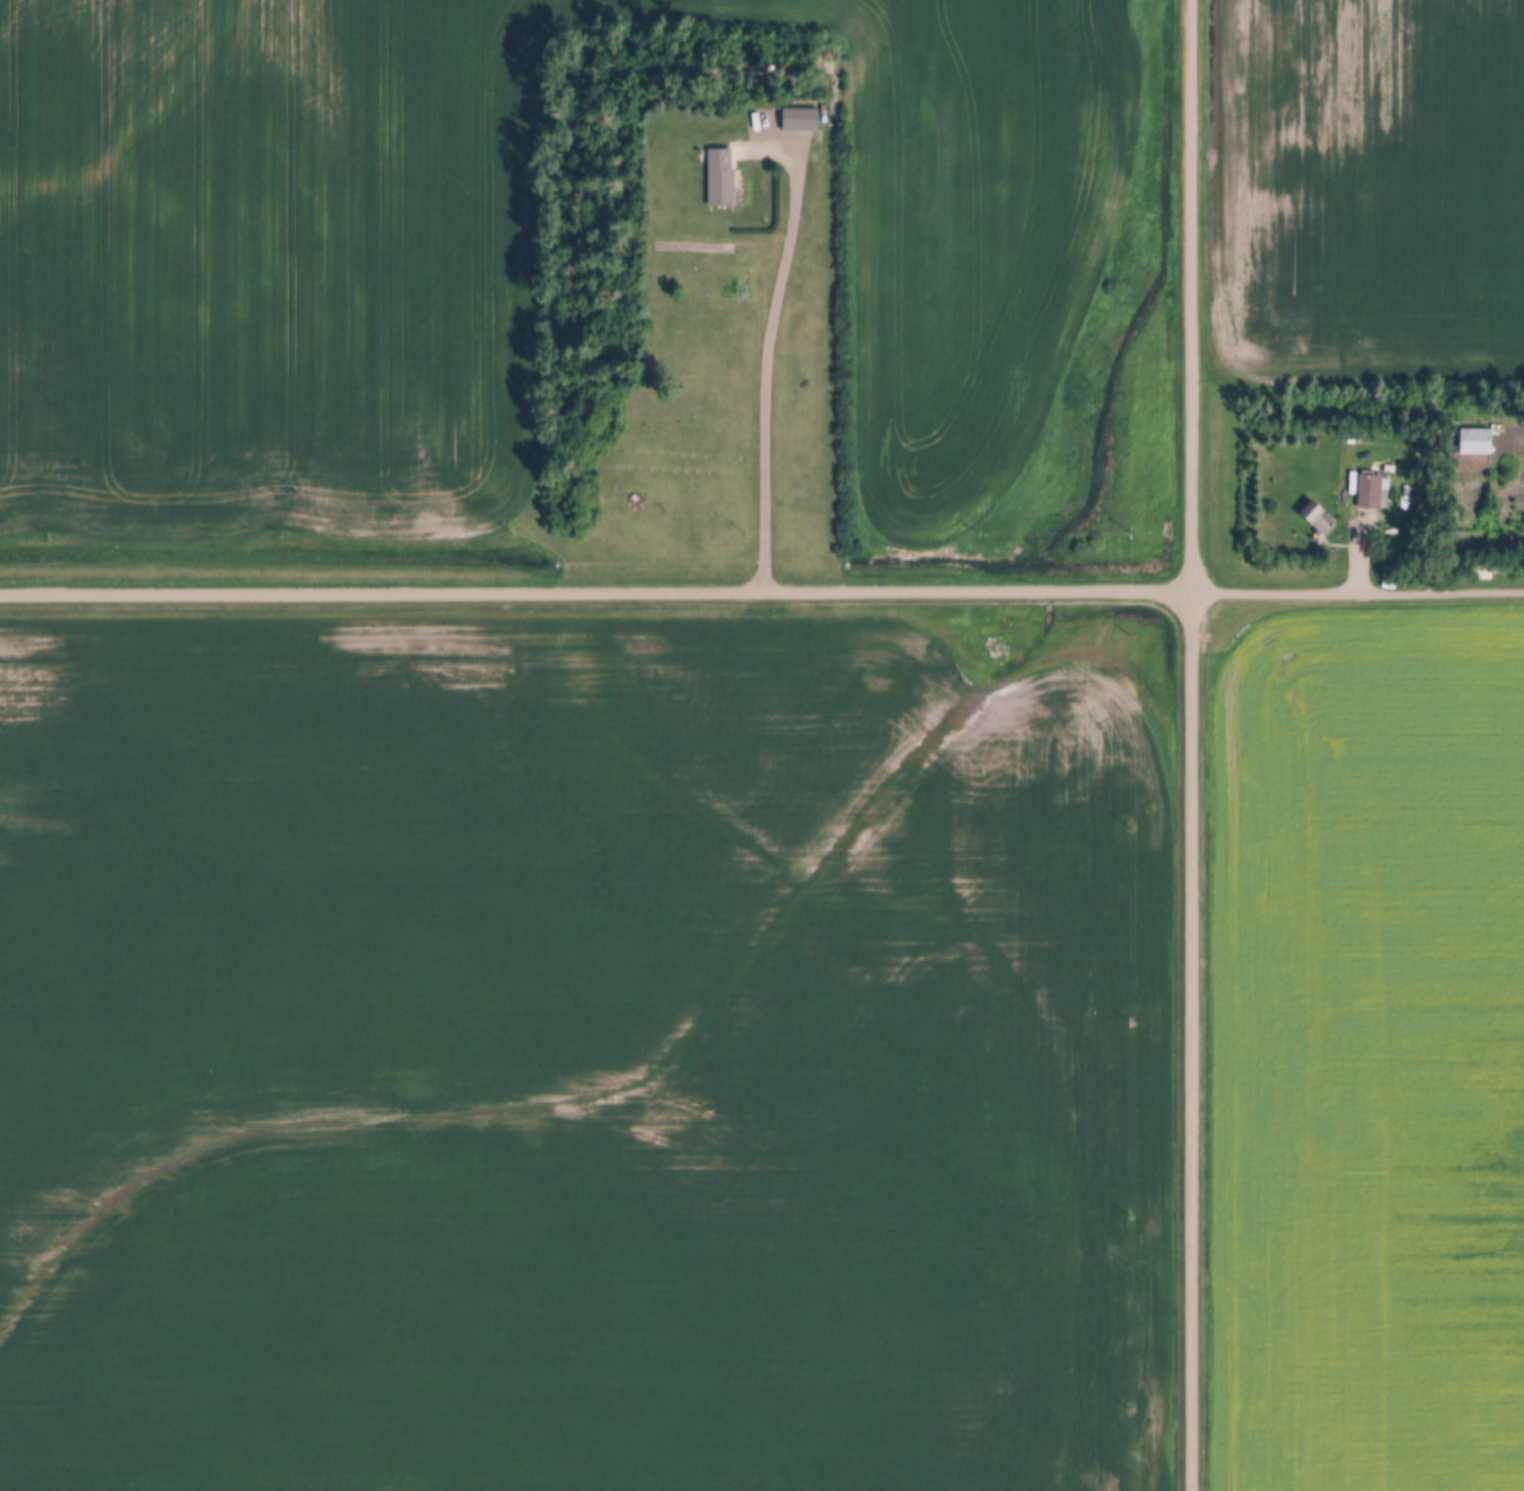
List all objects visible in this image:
building: (801, 120)
building: (722, 178)
road: (1191, 295)
road: (770, 342)
building: (1476, 441)
building: (1371, 491)
building: (1319, 518)
road: (1361, 556)
road: (595, 591)
road: (1441, 592)
road: (1274, 593)
road: (1191, 1040)

